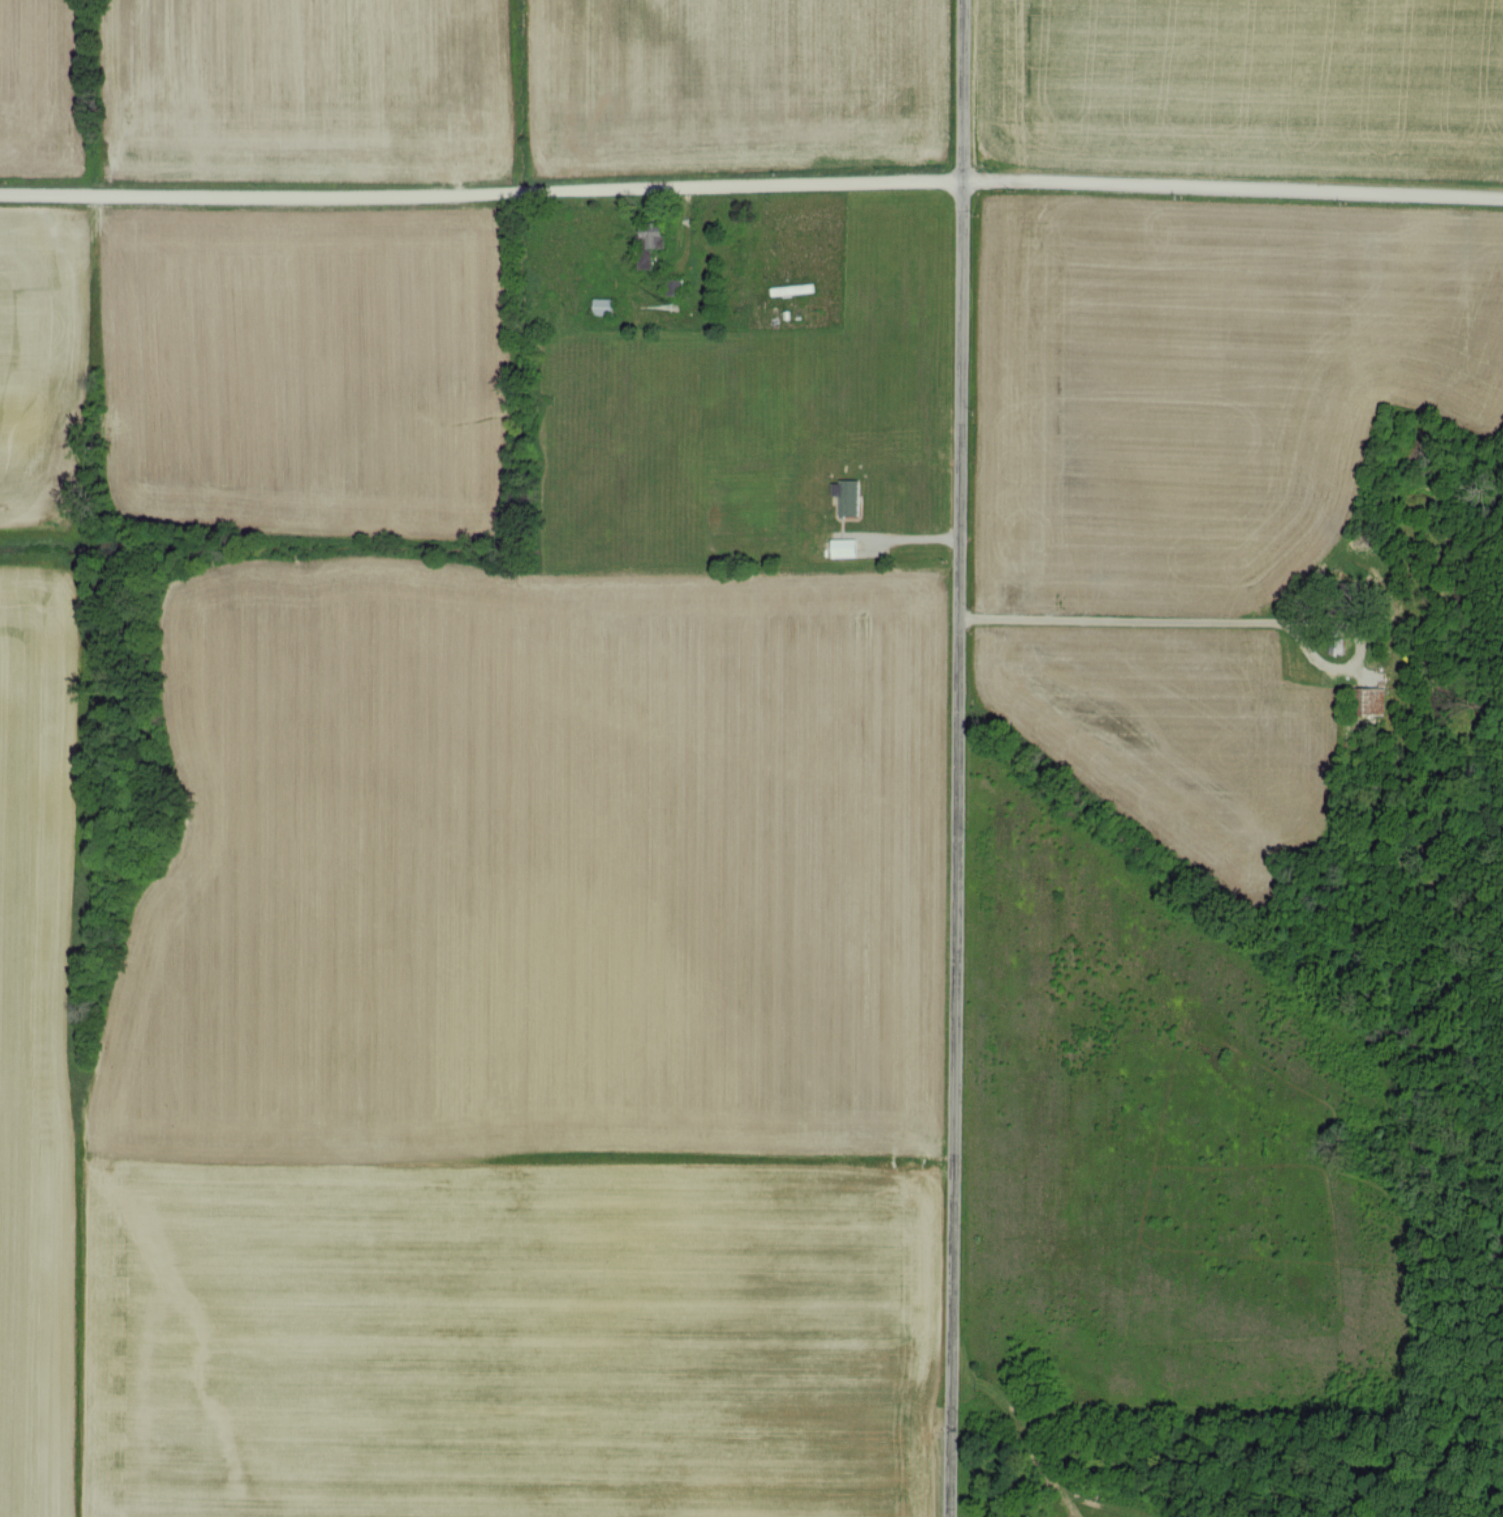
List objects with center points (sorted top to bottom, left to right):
road: (963, 91)
road: (1233, 187)
road: (481, 192)
road: (899, 534)
building: (843, 546)
road: (1121, 620)
road: (958, 850)

